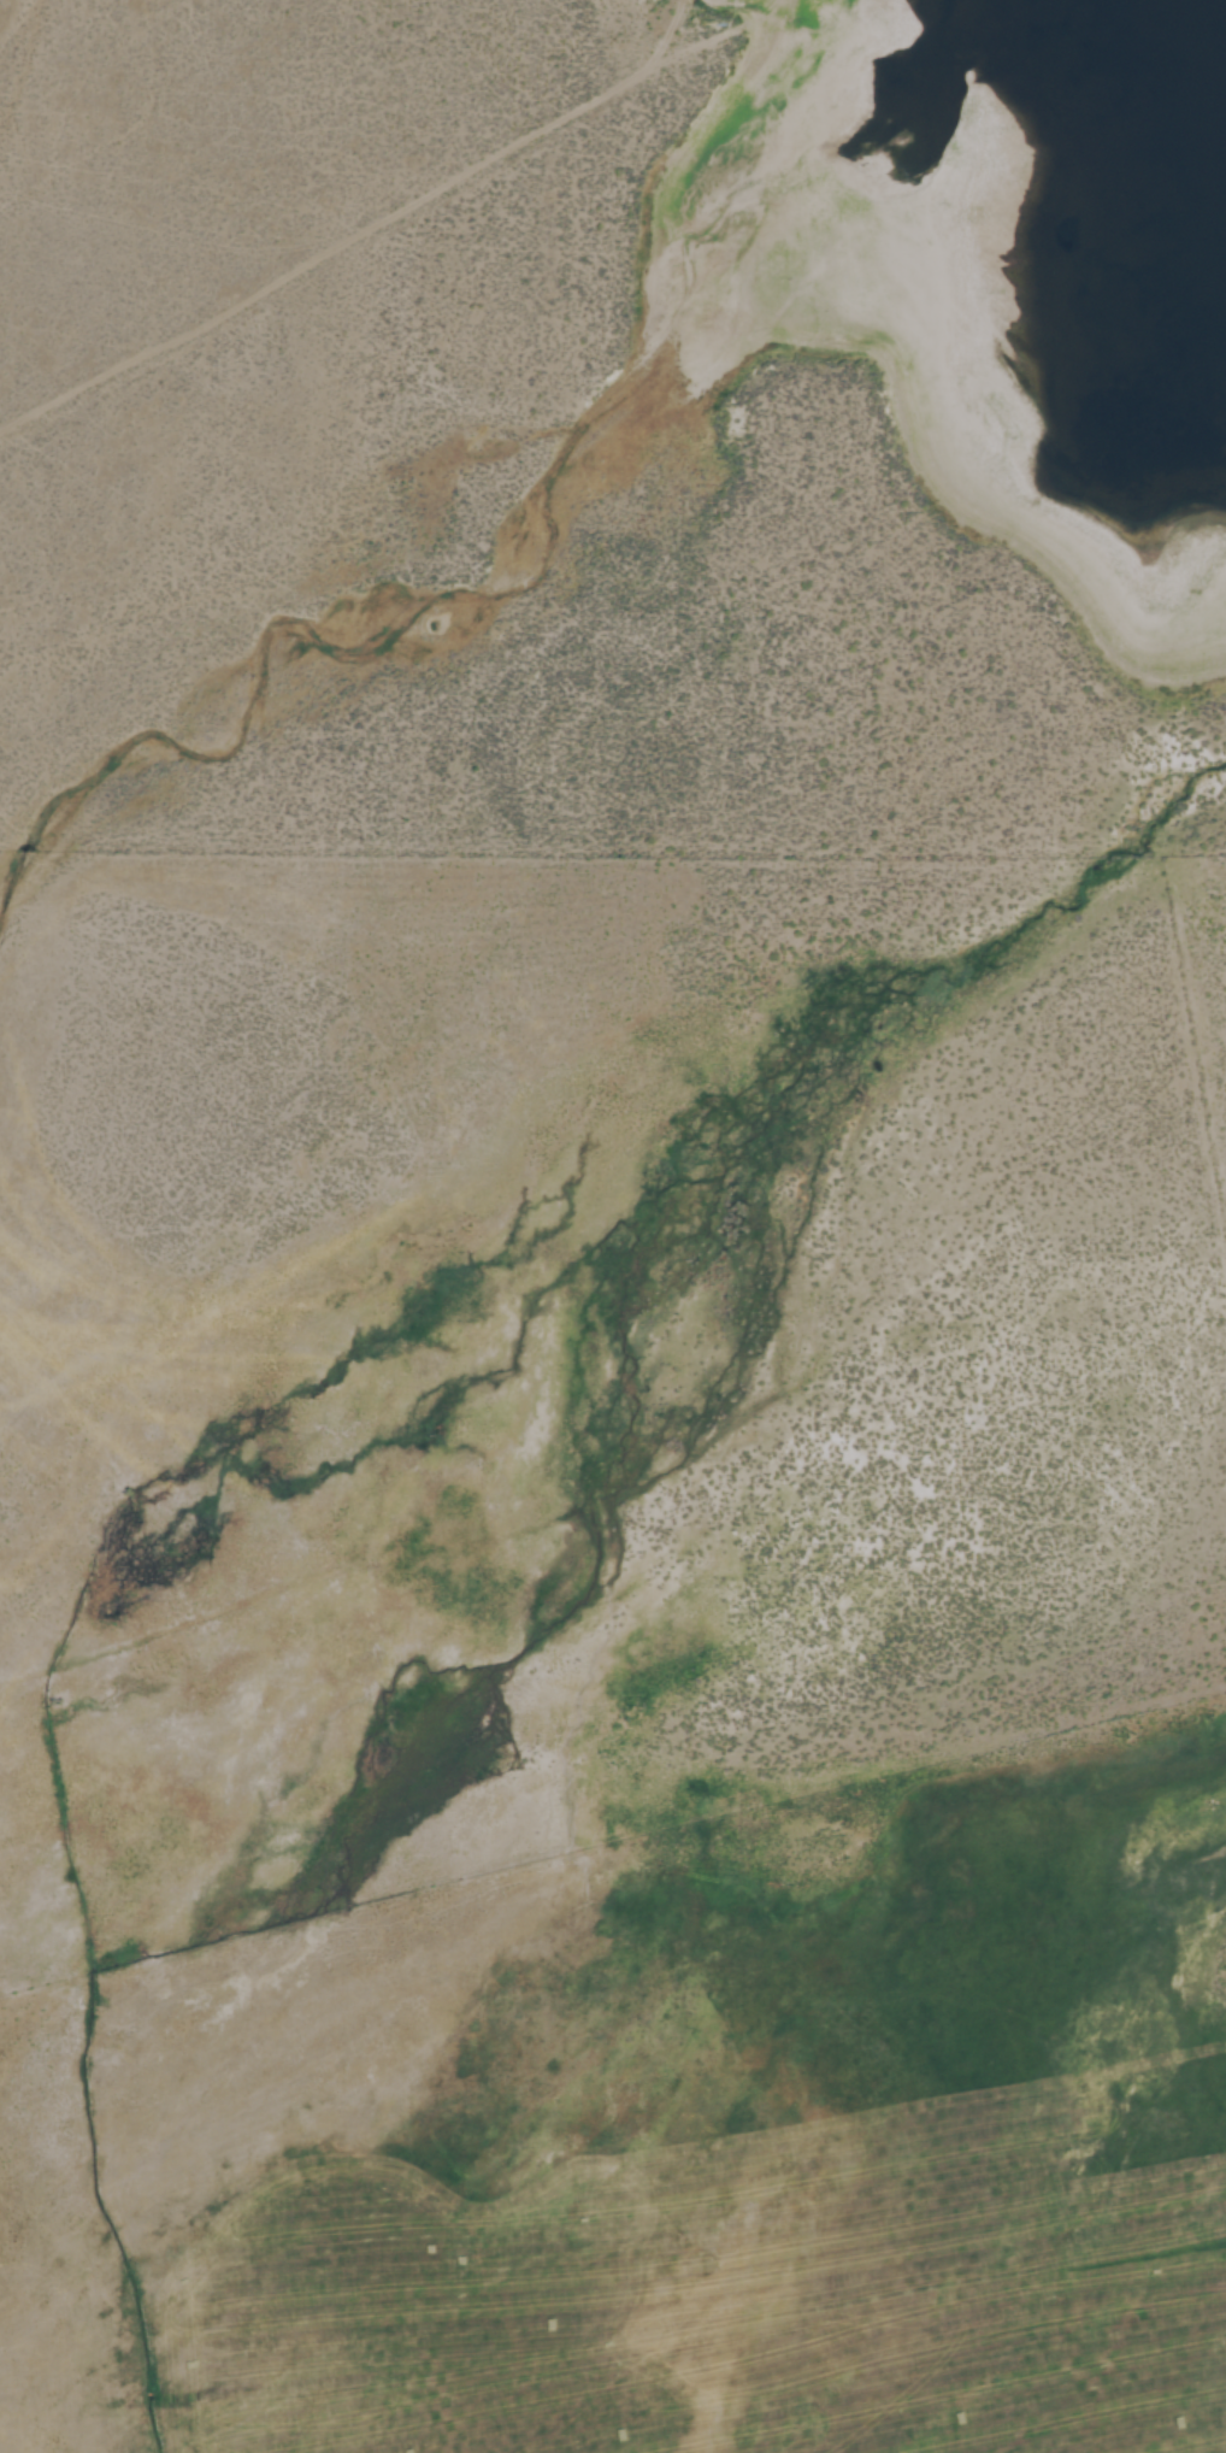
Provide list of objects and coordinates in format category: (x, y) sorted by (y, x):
dam: (745, 2)

